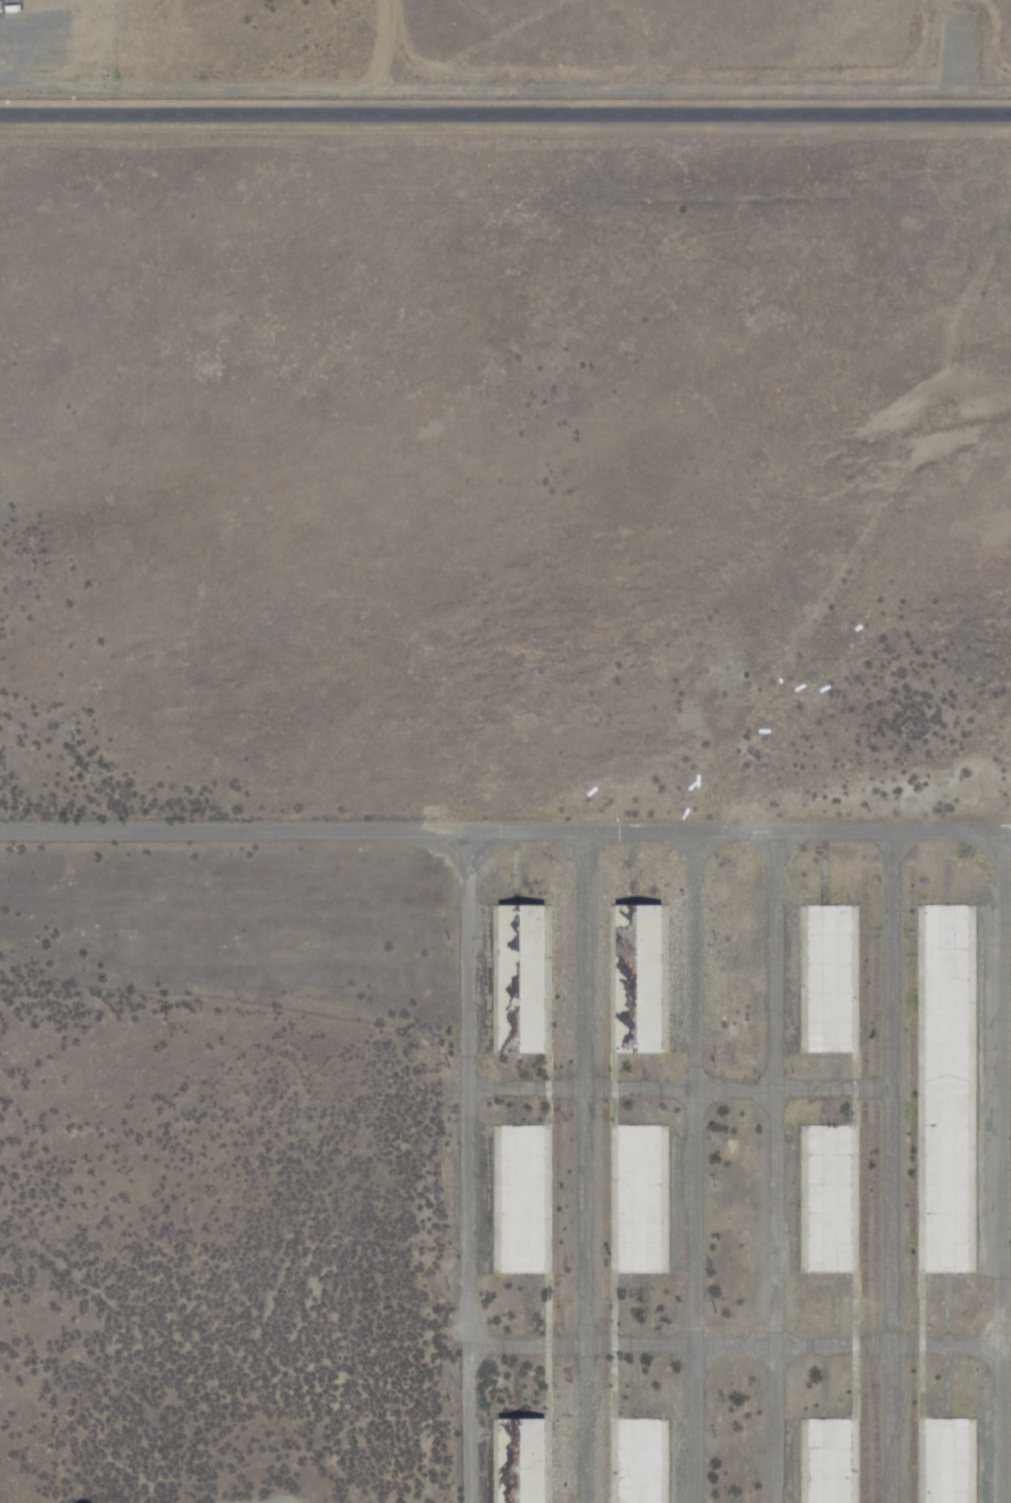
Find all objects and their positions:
road: (505, 115)
road: (505, 833)
building: (643, 969)
building: (523, 972)
building: (829, 978)
building: (946, 1088)
road: (767, 1166)
road: (466, 1168)
road: (692, 1168)
road: (1000, 1169)
railway: (872, 1185)
railway: (555, 1186)
railway: (568, 1186)
railway: (604, 1188)
building: (522, 1198)
building: (639, 1198)
building: (829, 1199)
building: (519, 1457)
building: (640, 1461)
building: (829, 1461)
building: (946, 1461)

